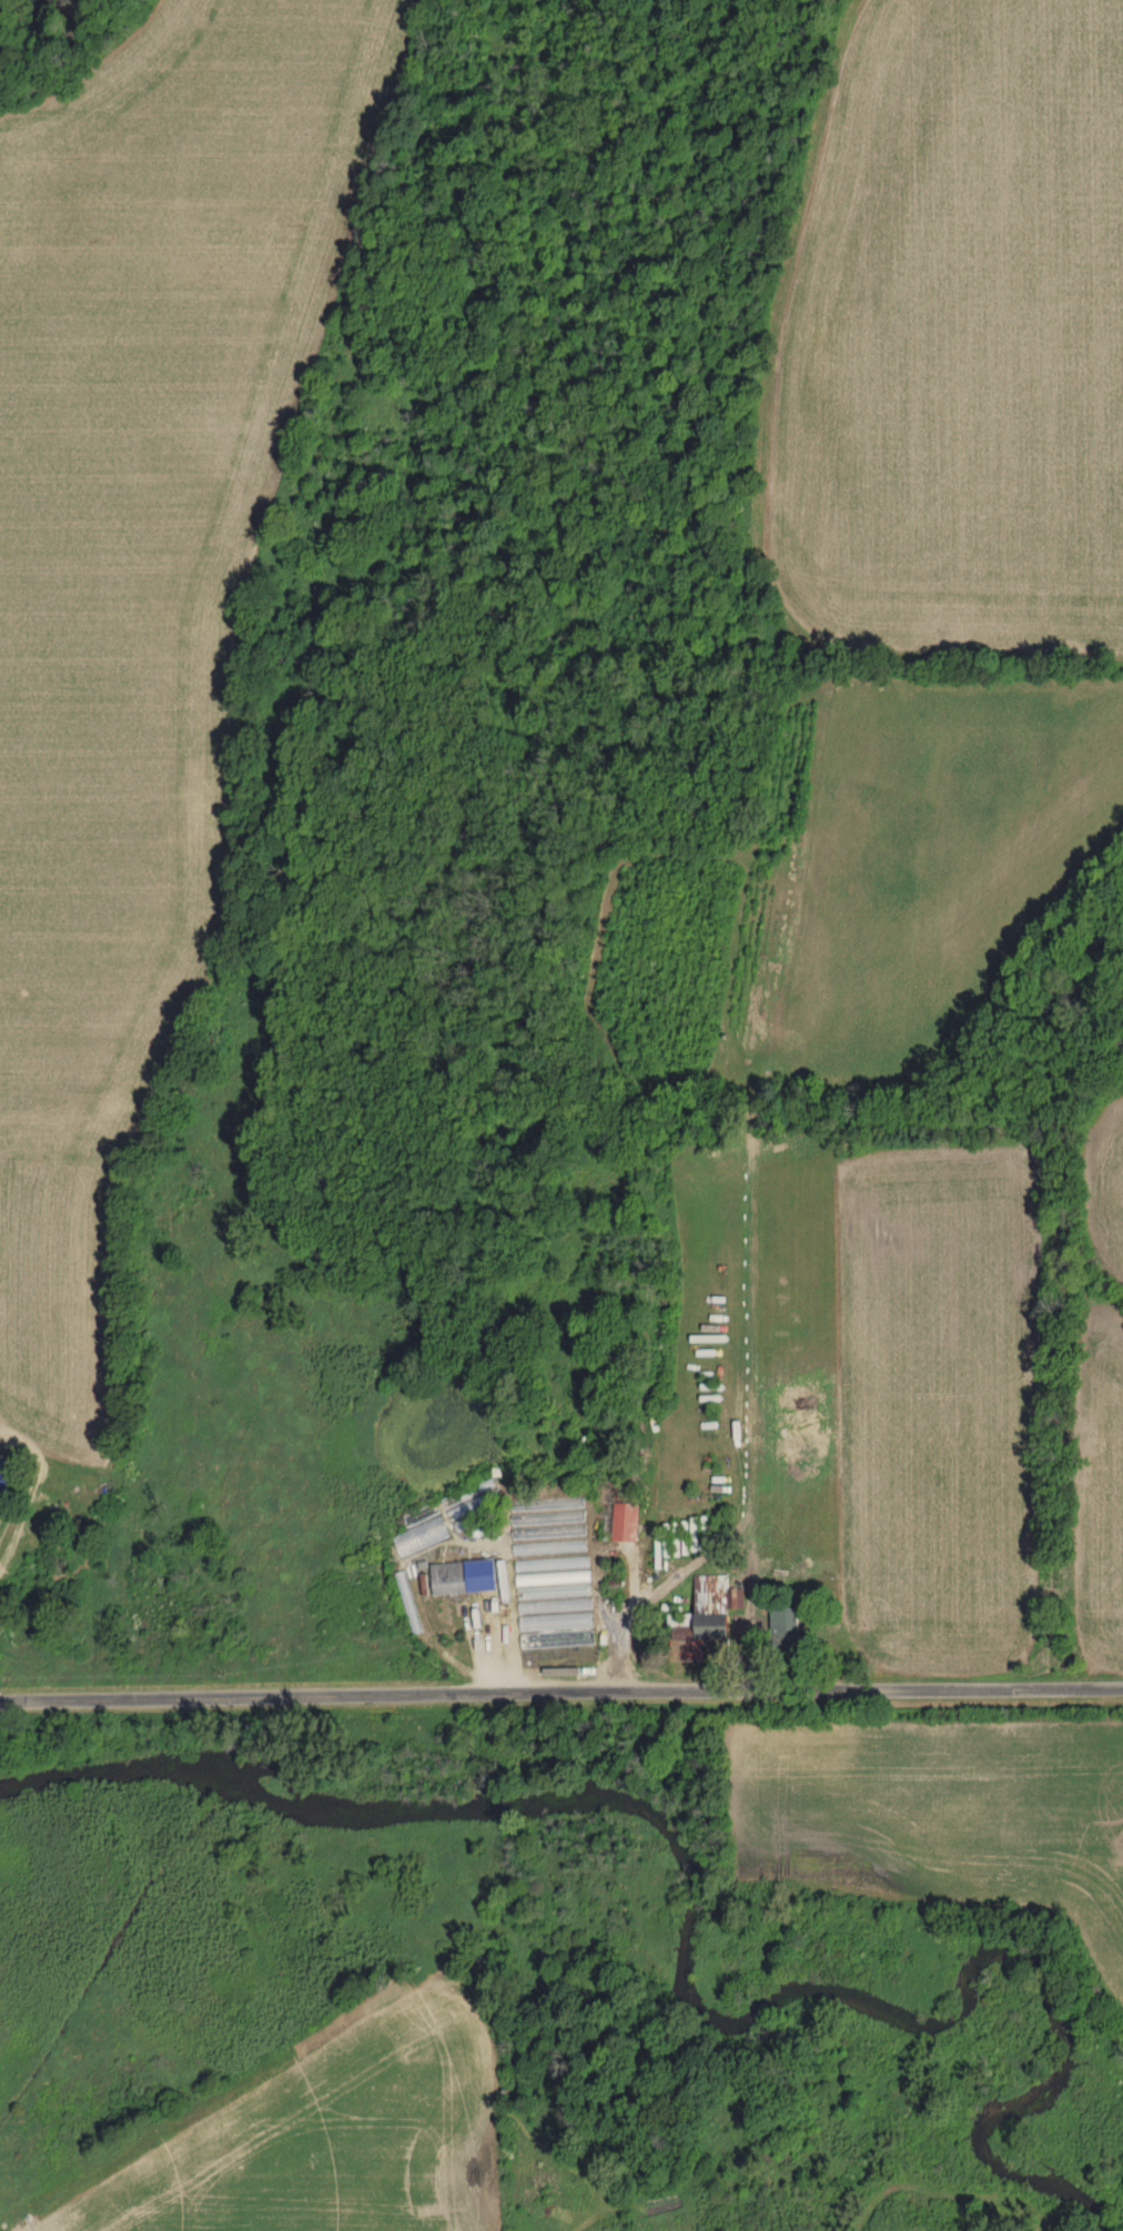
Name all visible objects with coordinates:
building: (7, 1476)
building: (472, 1512)
building: (428, 1533)
building: (473, 1574)
building: (791, 1616)
road: (560, 1698)

